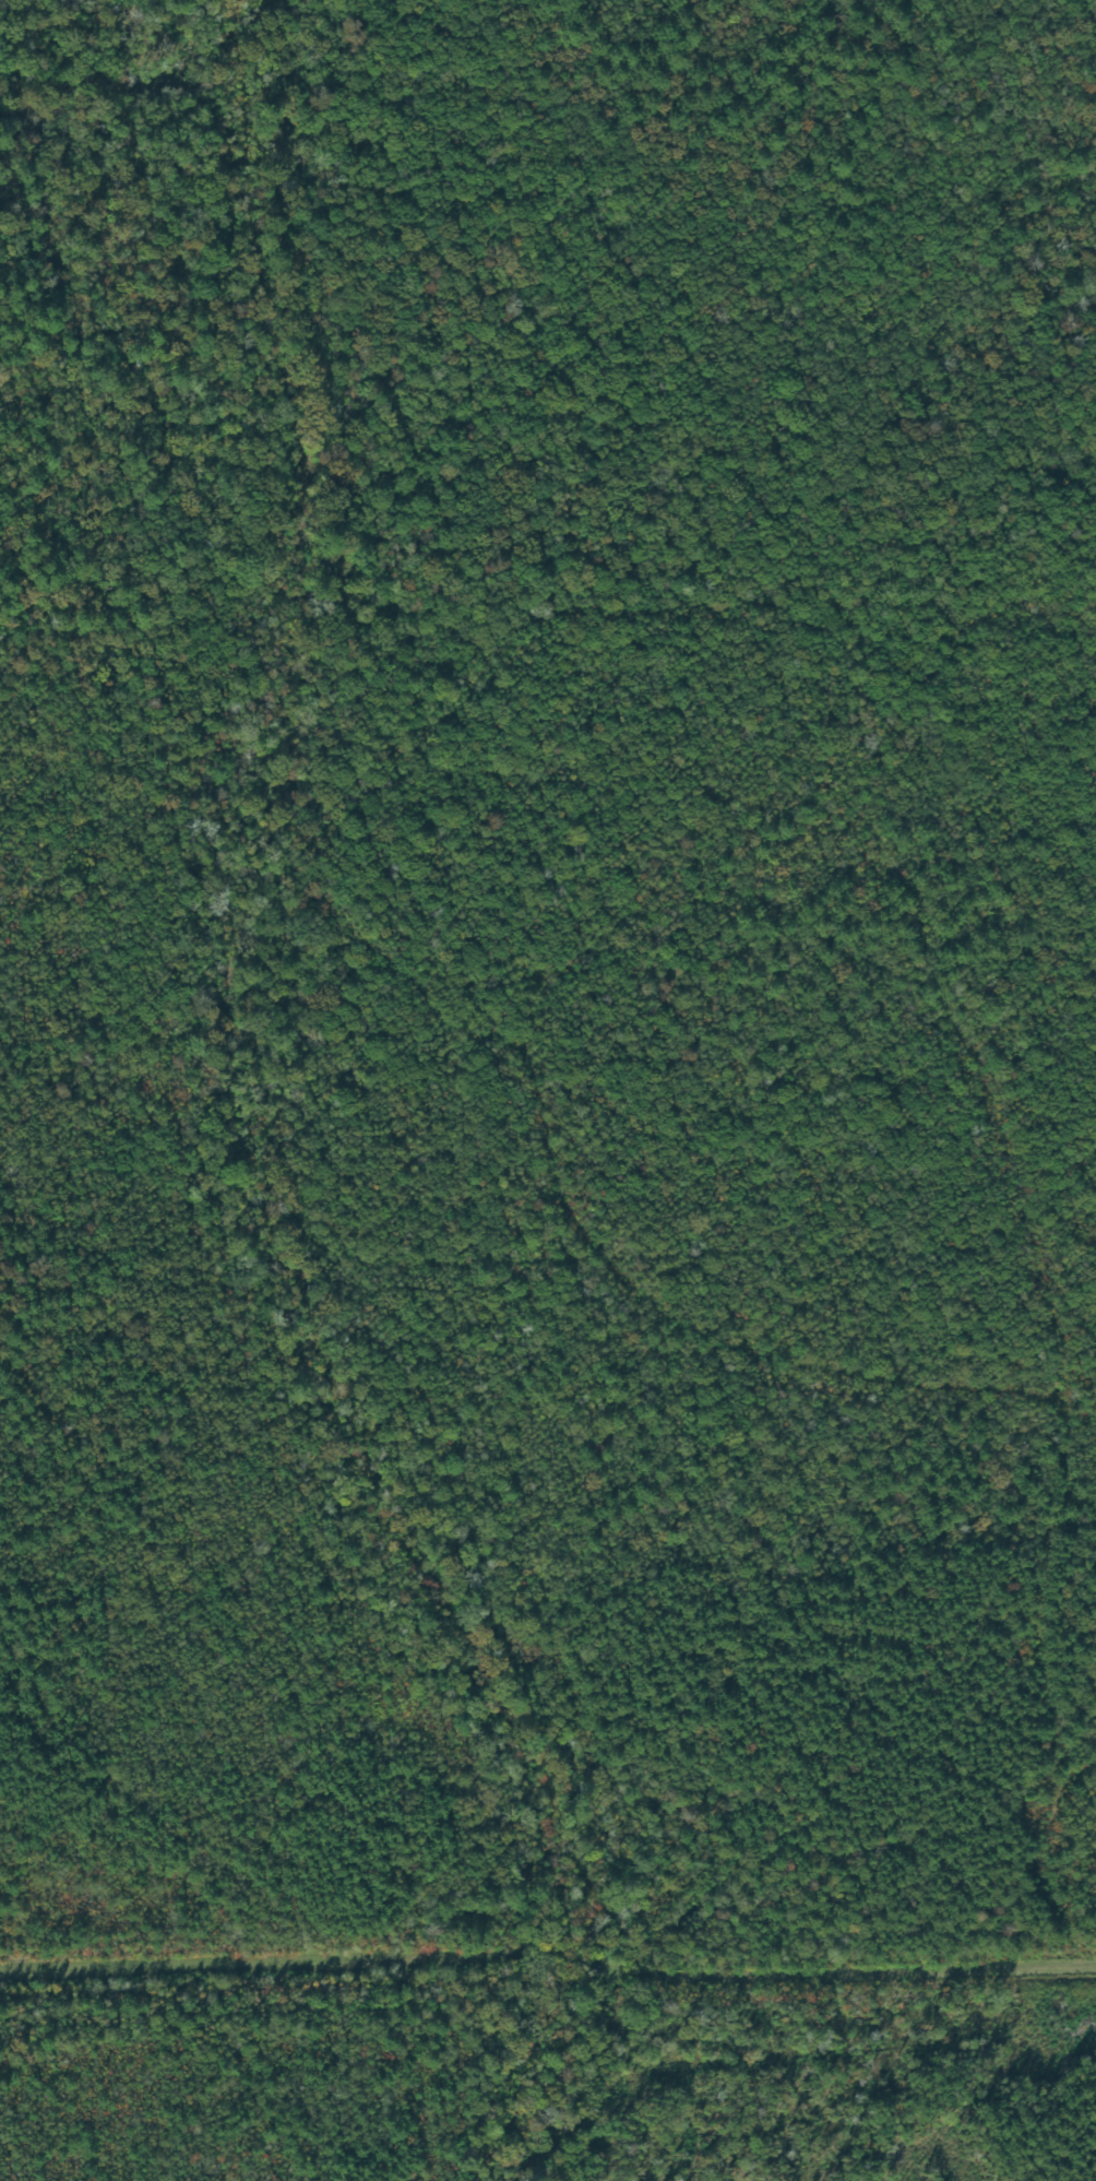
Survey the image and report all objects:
road: (548, 1955)

